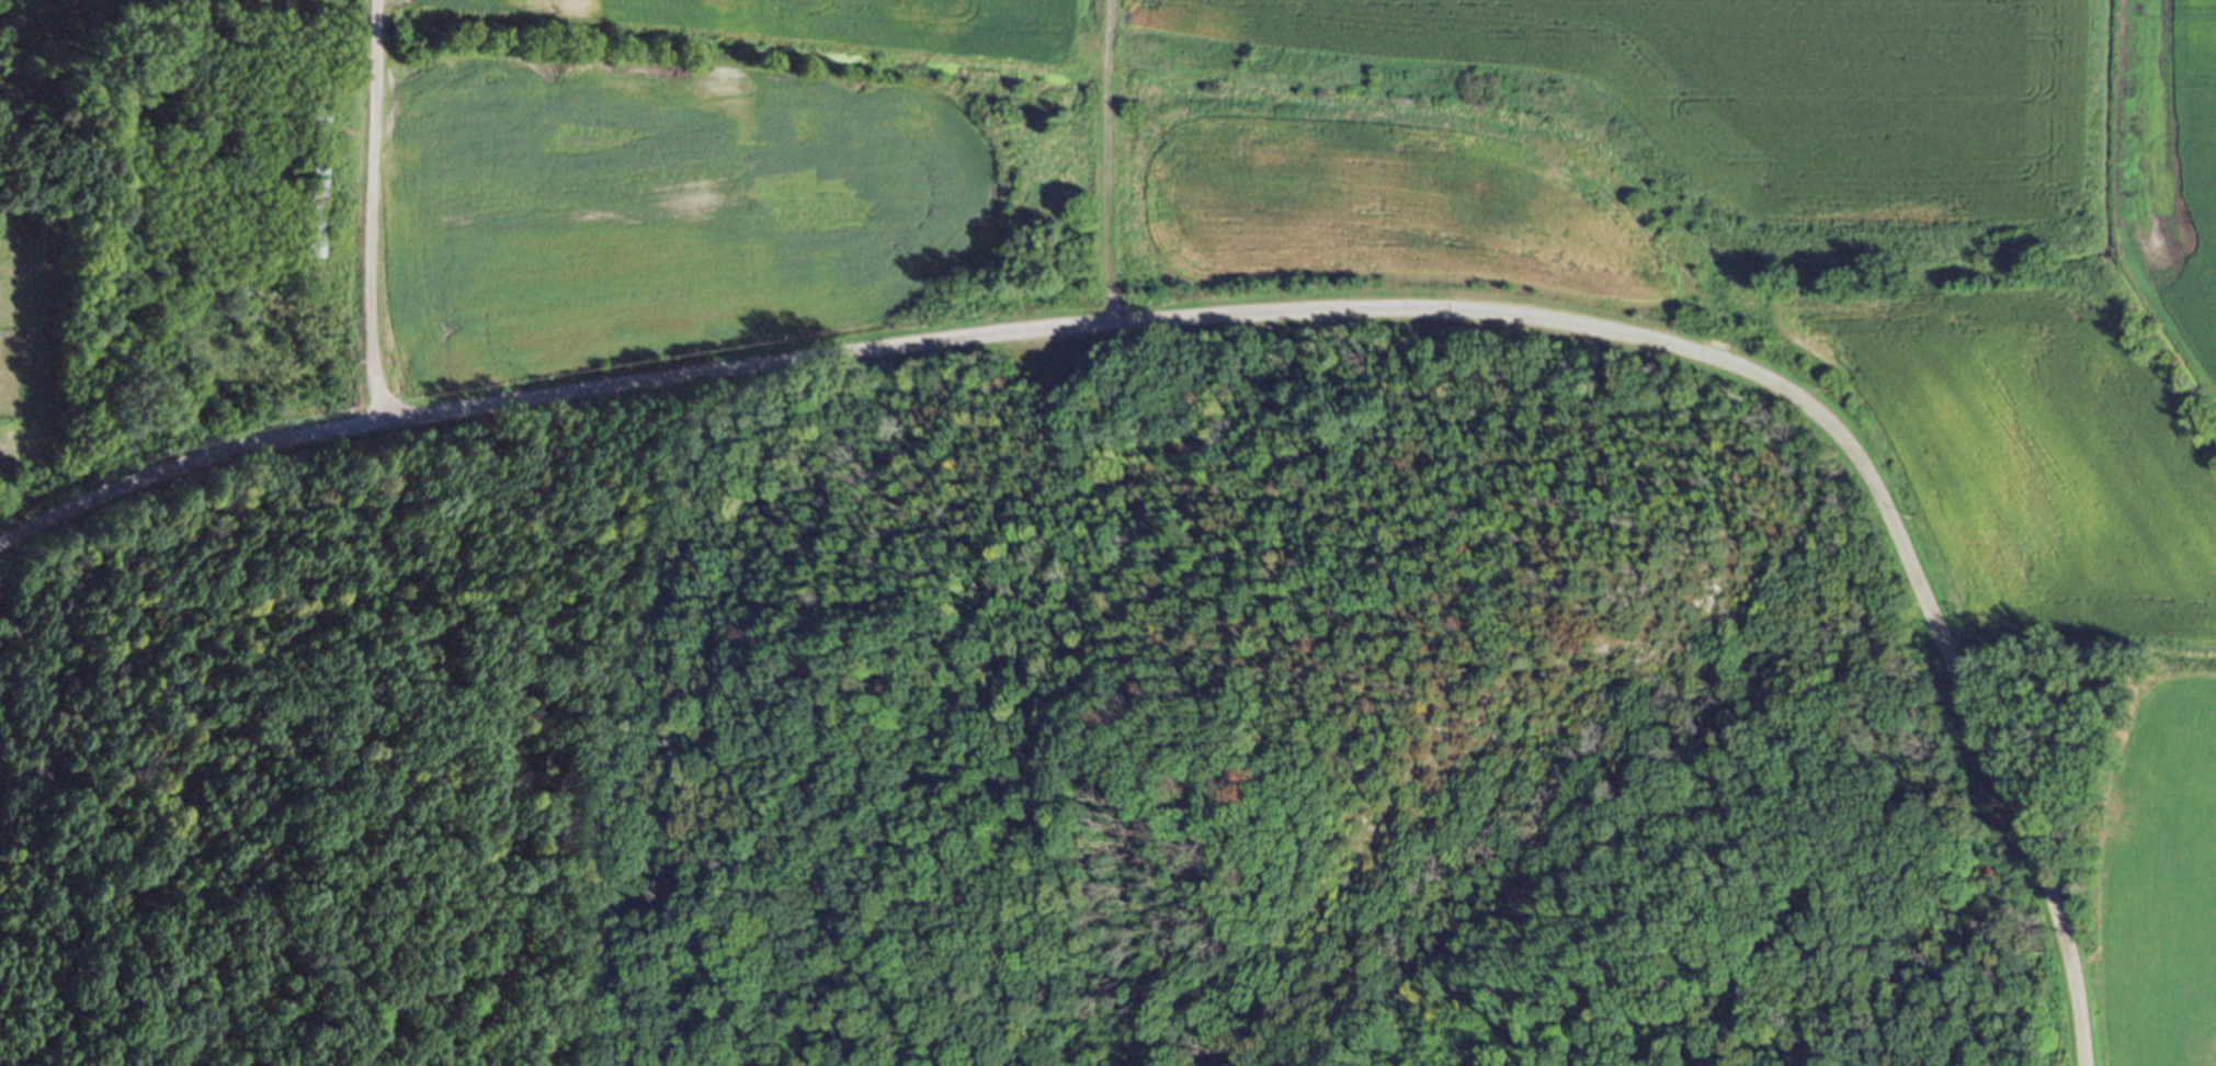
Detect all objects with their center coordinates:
building: (315, 183)
road: (367, 212)
road: (1258, 314)

